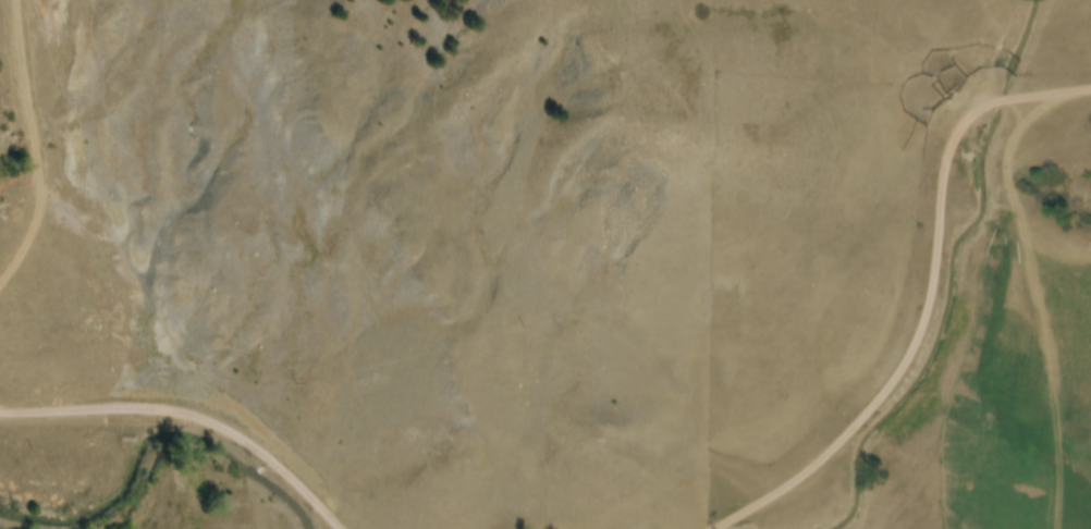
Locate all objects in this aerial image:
road: (822, 336)
road: (181, 442)

